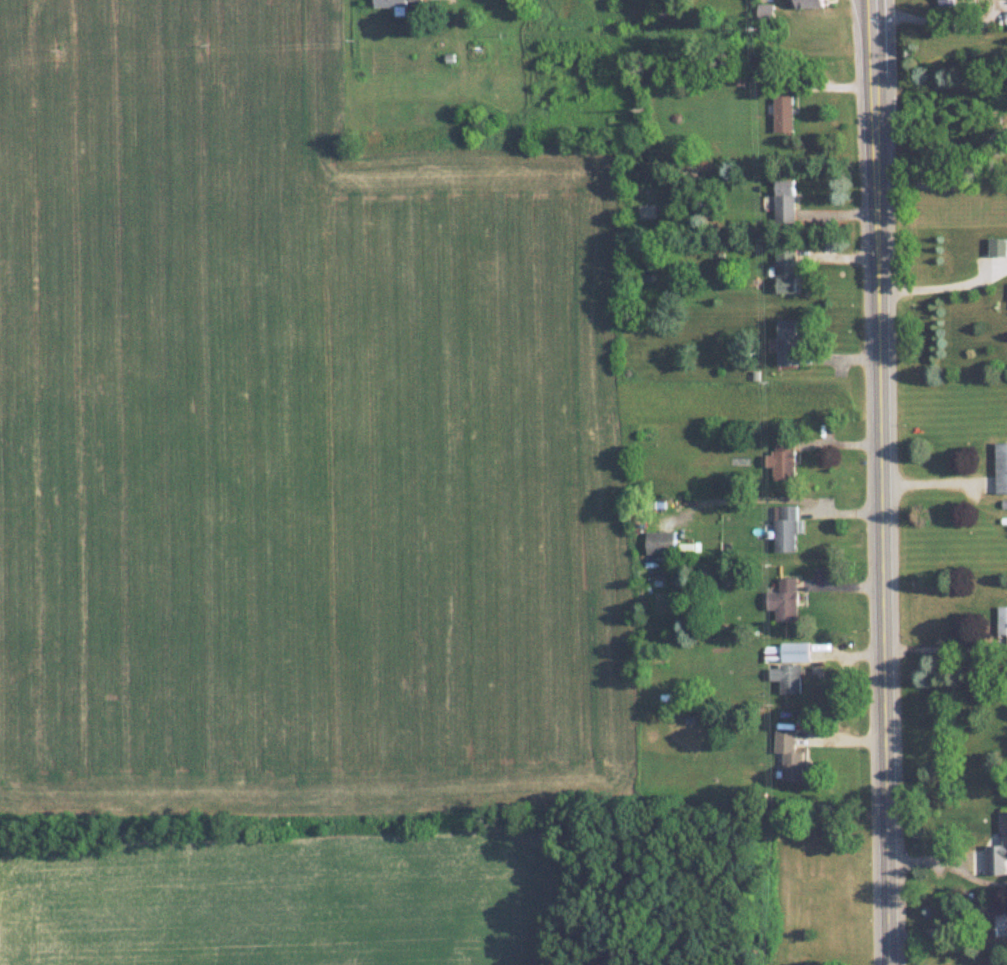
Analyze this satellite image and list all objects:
building: (399, 2)
building: (809, 3)
road: (945, 23)
building: (783, 113)
road: (953, 175)
building: (784, 200)
building: (997, 246)
building: (784, 271)
road: (943, 285)
building: (785, 342)
building: (782, 457)
building: (1001, 466)
road: (938, 481)
road: (886, 482)
building: (784, 528)
building: (659, 542)
building: (784, 599)
building: (1002, 619)
road: (942, 646)
building: (790, 678)
building: (789, 755)
building: (998, 853)
building: (997, 919)

